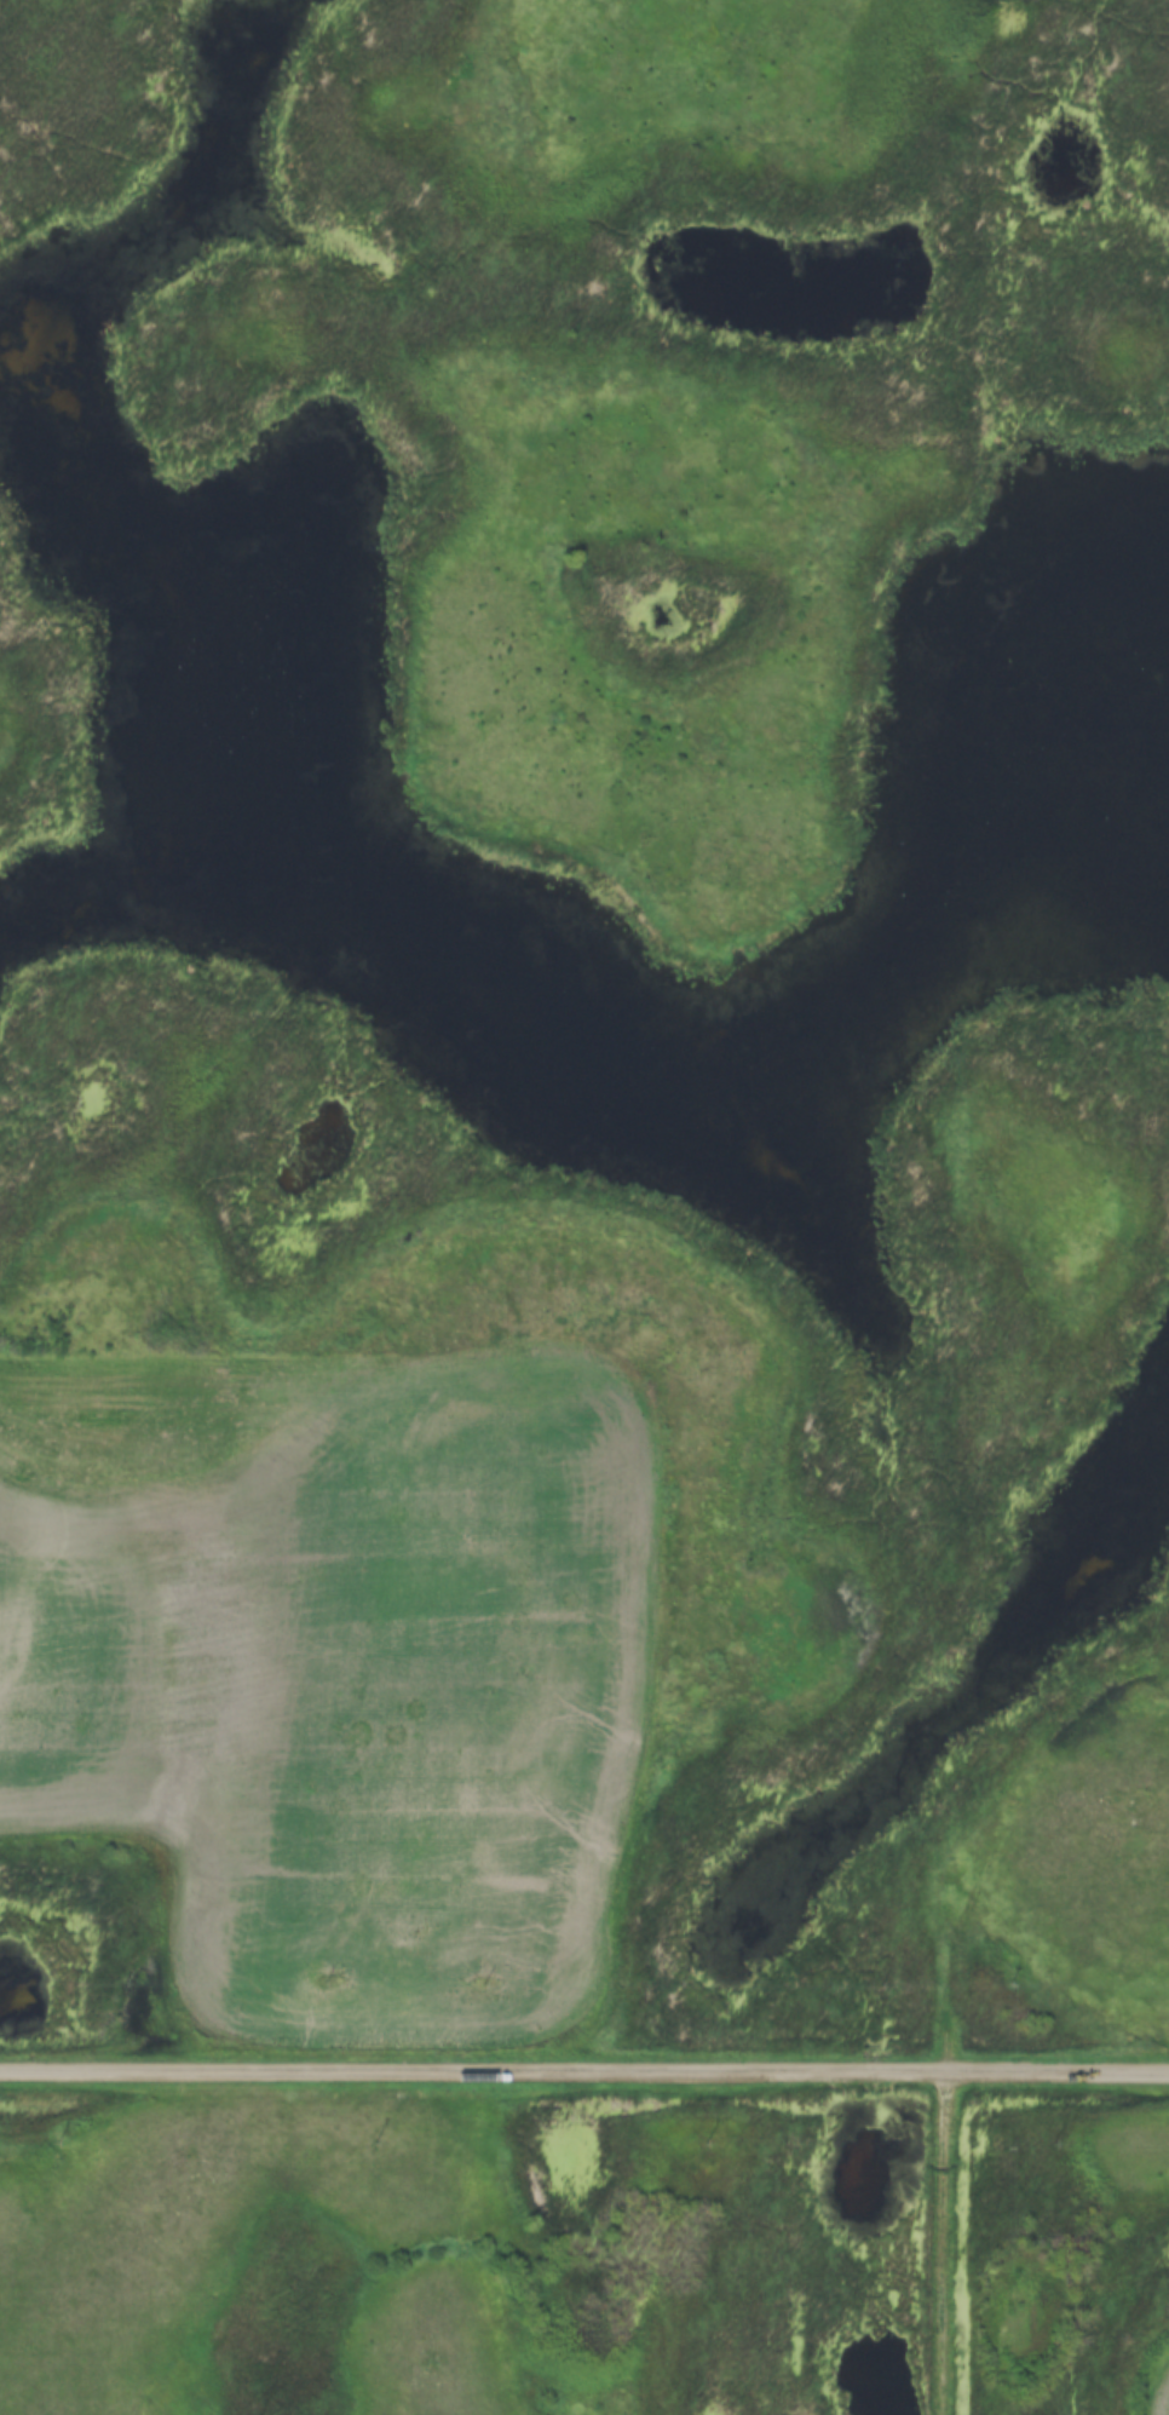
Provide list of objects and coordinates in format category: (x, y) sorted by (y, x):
road: (583, 2075)
road: (939, 2246)

